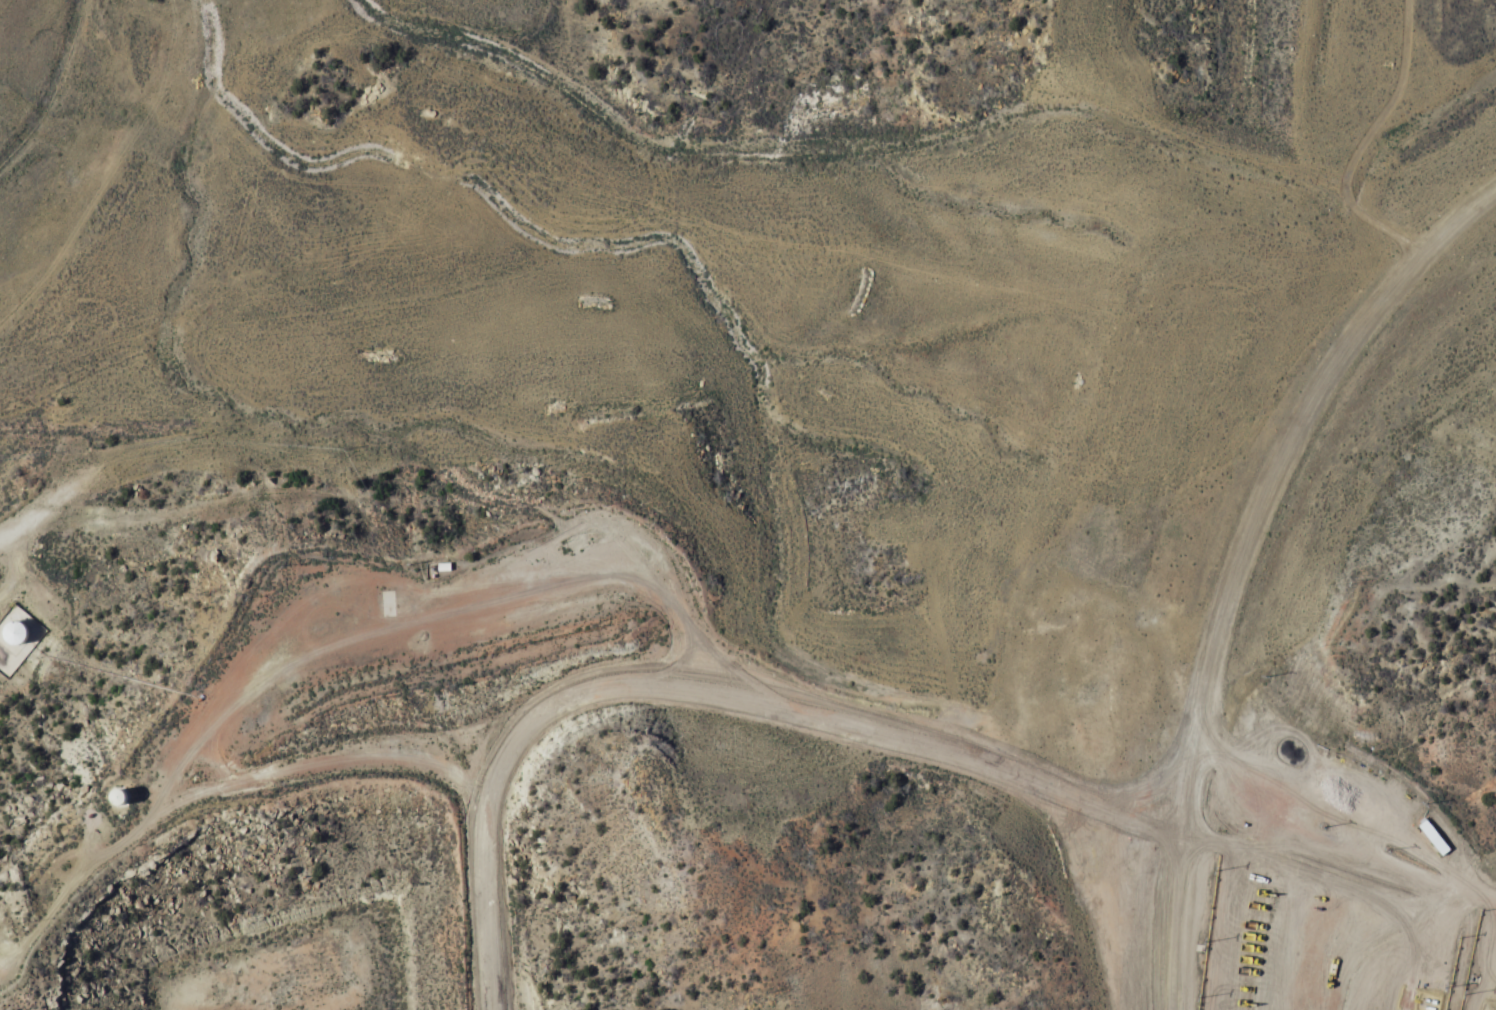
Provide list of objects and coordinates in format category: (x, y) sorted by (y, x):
railway: (6, 9)
railway: (3, 14)
road: (1234, 496)
building: (13, 641)
road: (756, 699)
building: (1436, 836)

